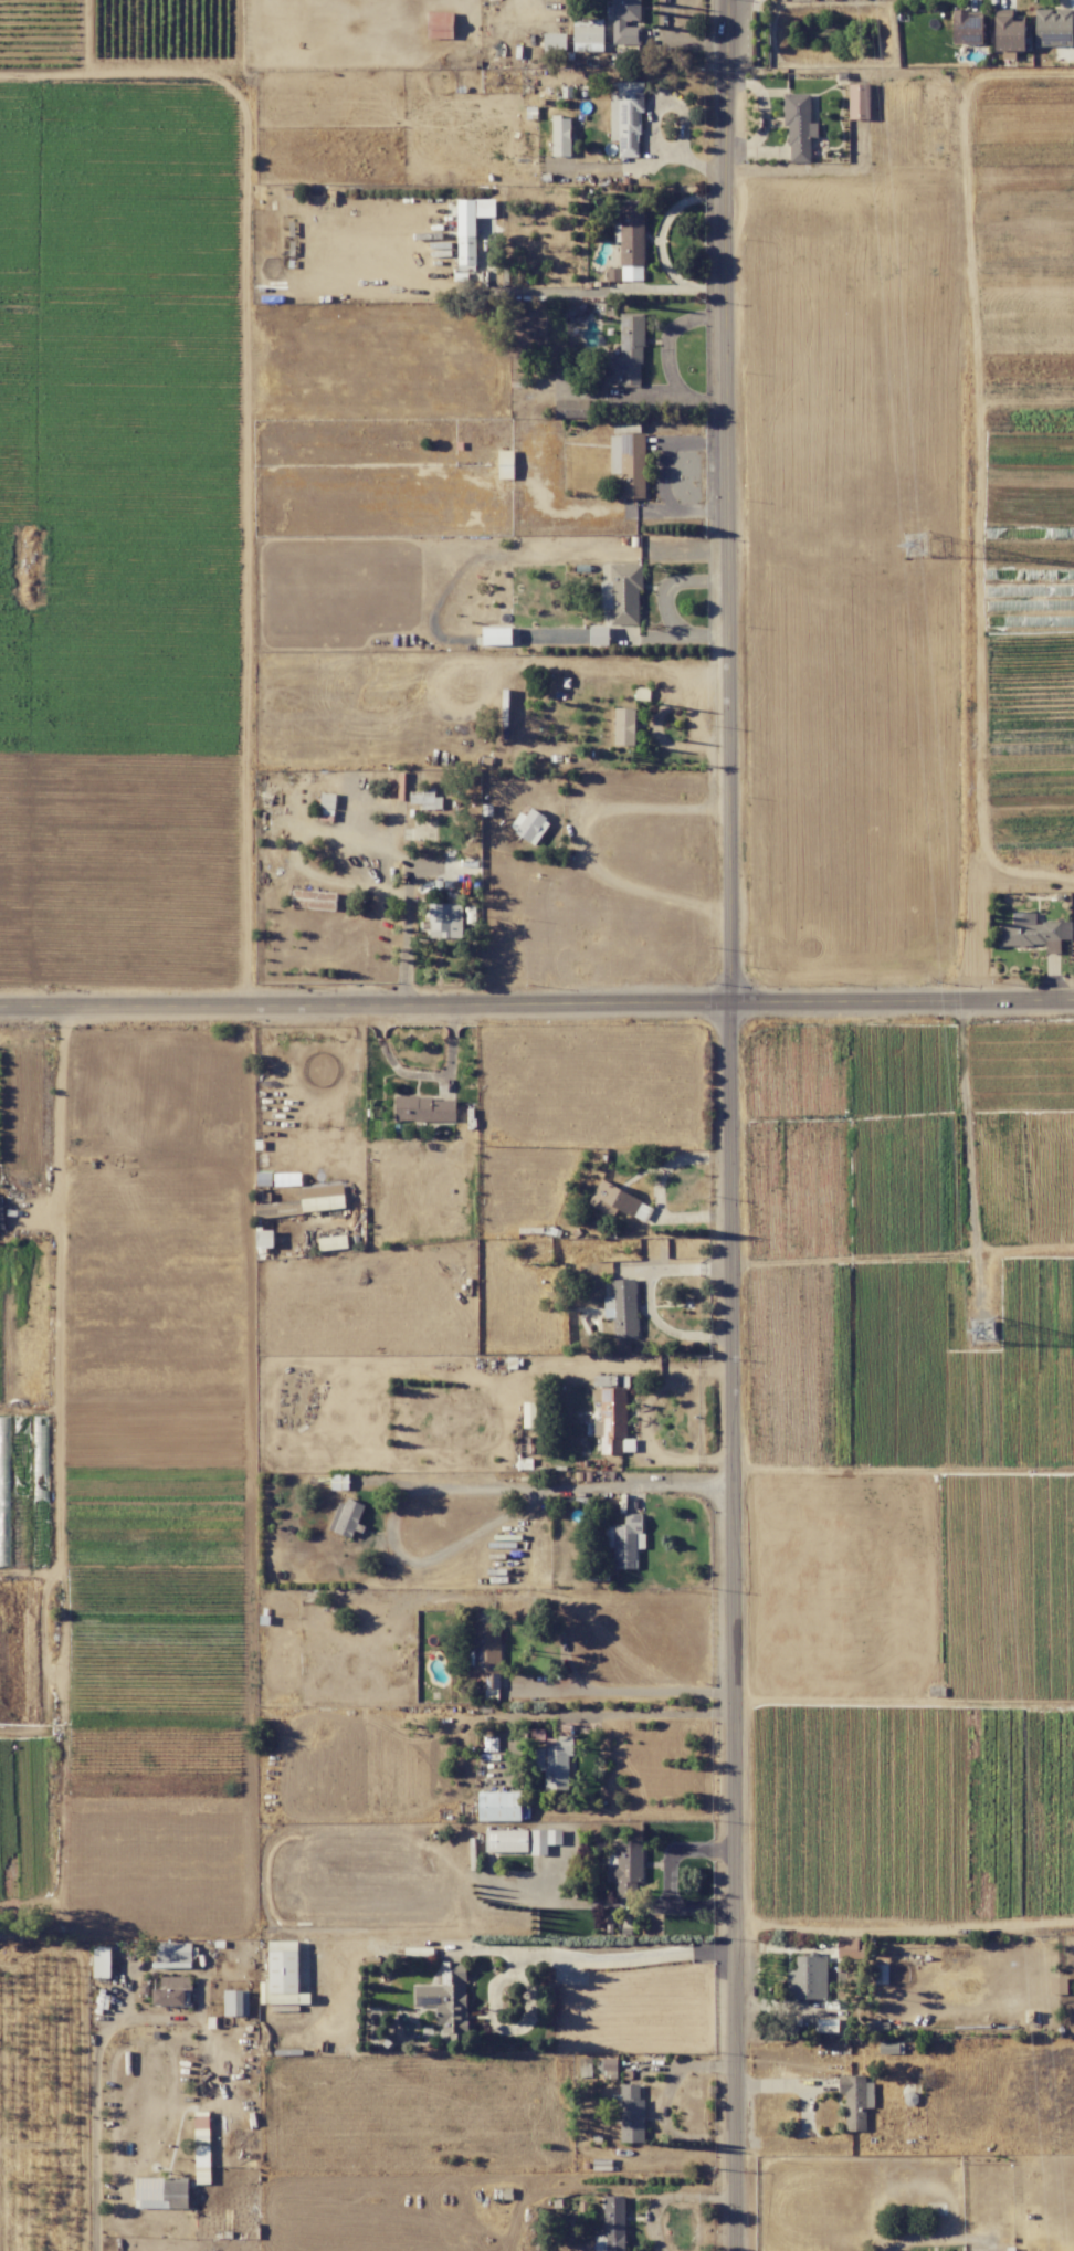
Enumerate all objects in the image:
road: (519, 6)
building: (625, 22)
building: (440, 24)
building: (966, 28)
building: (1052, 28)
building: (587, 33)
building: (1009, 33)
building: (554, 41)
building: (859, 101)
building: (625, 117)
building: (799, 128)
building: (560, 136)
building: (465, 233)
building: (631, 240)
road: (670, 336)
building: (625, 355)
road: (672, 398)
building: (571, 409)
building: (628, 459)
building: (505, 464)
road: (731, 499)
power tower: (915, 546)
road: (670, 585)
building: (622, 592)
building: (496, 635)
building: (598, 635)
road: (685, 638)
building: (641, 693)
road: (657, 720)
building: (624, 726)
building: (425, 799)
building: (327, 802)
building: (529, 825)
road: (586, 844)
road: (408, 882)
building: (314, 900)
building: (445, 921)
building: (1034, 932)
road: (537, 1000)
building: (424, 1108)
building: (618, 1201)
building: (323, 1202)
building: (277, 1208)
building: (1, 1214)
building: (263, 1238)
building: (333, 1242)
building: (622, 1307)
power tower: (982, 1330)
building: (529, 1414)
building: (612, 1422)
road: (451, 1489)
building: (347, 1517)
road: (734, 1626)
building: (485, 1653)
road: (622, 1690)
building: (552, 1758)
building: (499, 1806)
building: (506, 1840)
building: (544, 1840)
building: (626, 1868)
road: (625, 1902)
building: (849, 1948)
building: (172, 1954)
road: (599, 1956)
building: (101, 1963)
building: (881, 1974)
building: (281, 1975)
building: (808, 1978)
building: (1057, 1985)
building: (171, 1991)
building: (446, 2000)
building: (235, 2002)
building: (826, 2024)
building: (878, 2027)
building: (891, 2048)
building: (606, 2068)
building: (855, 2100)
road: (94, 2110)
building: (630, 2114)
building: (201, 2147)
building: (160, 2192)
road: (672, 2195)
building: (611, 2224)
road: (912, 2239)

